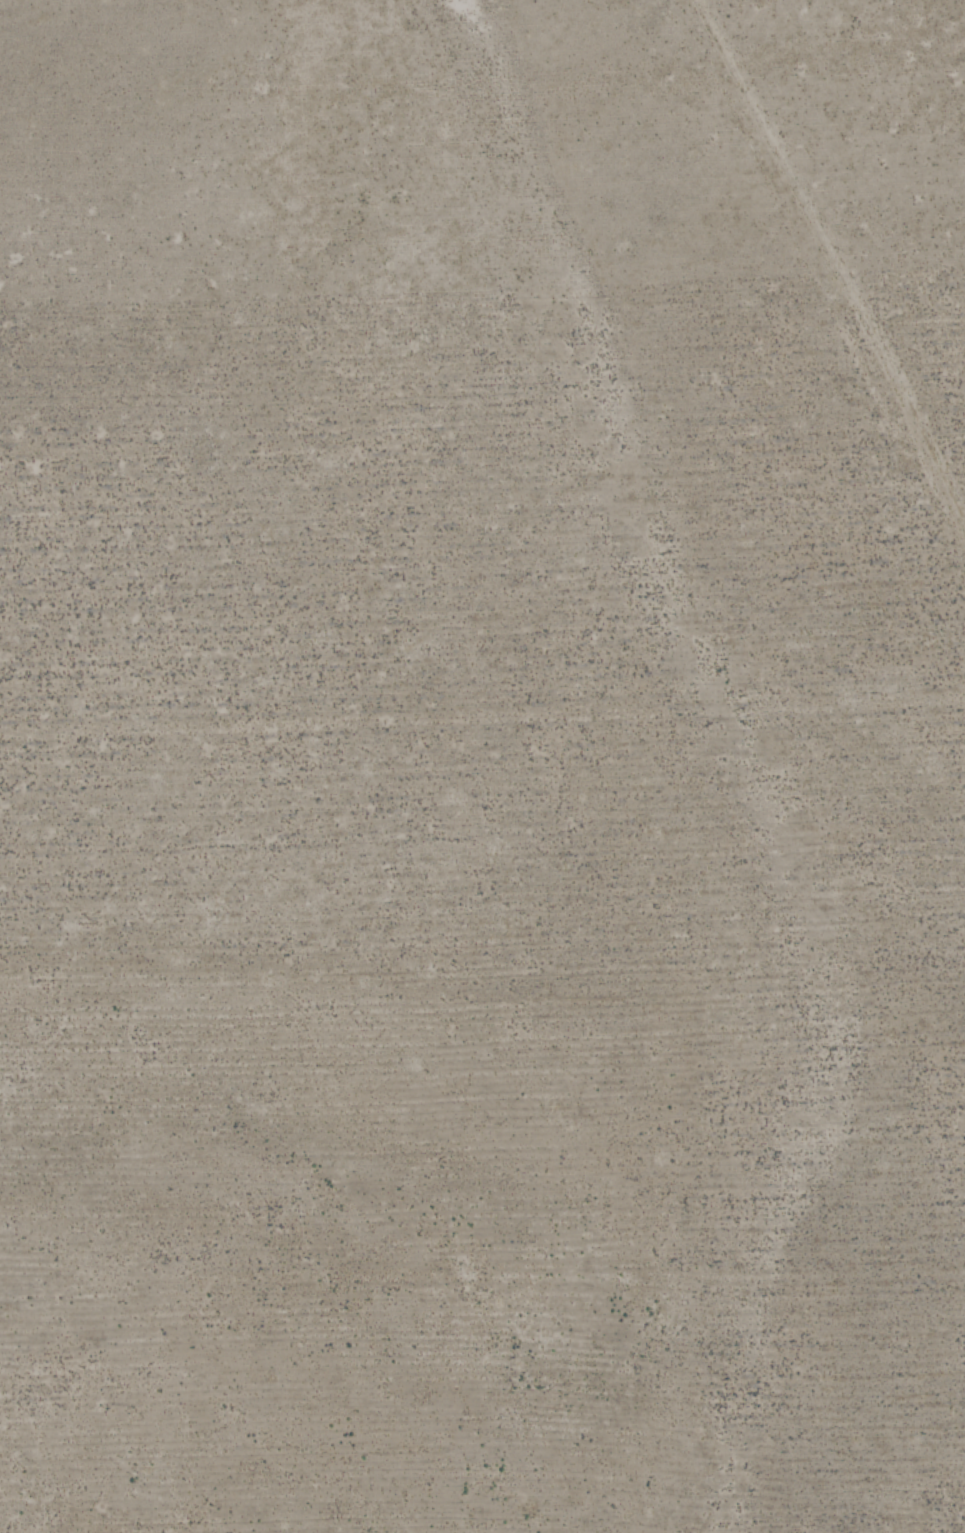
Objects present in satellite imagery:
road: (836, 253)

